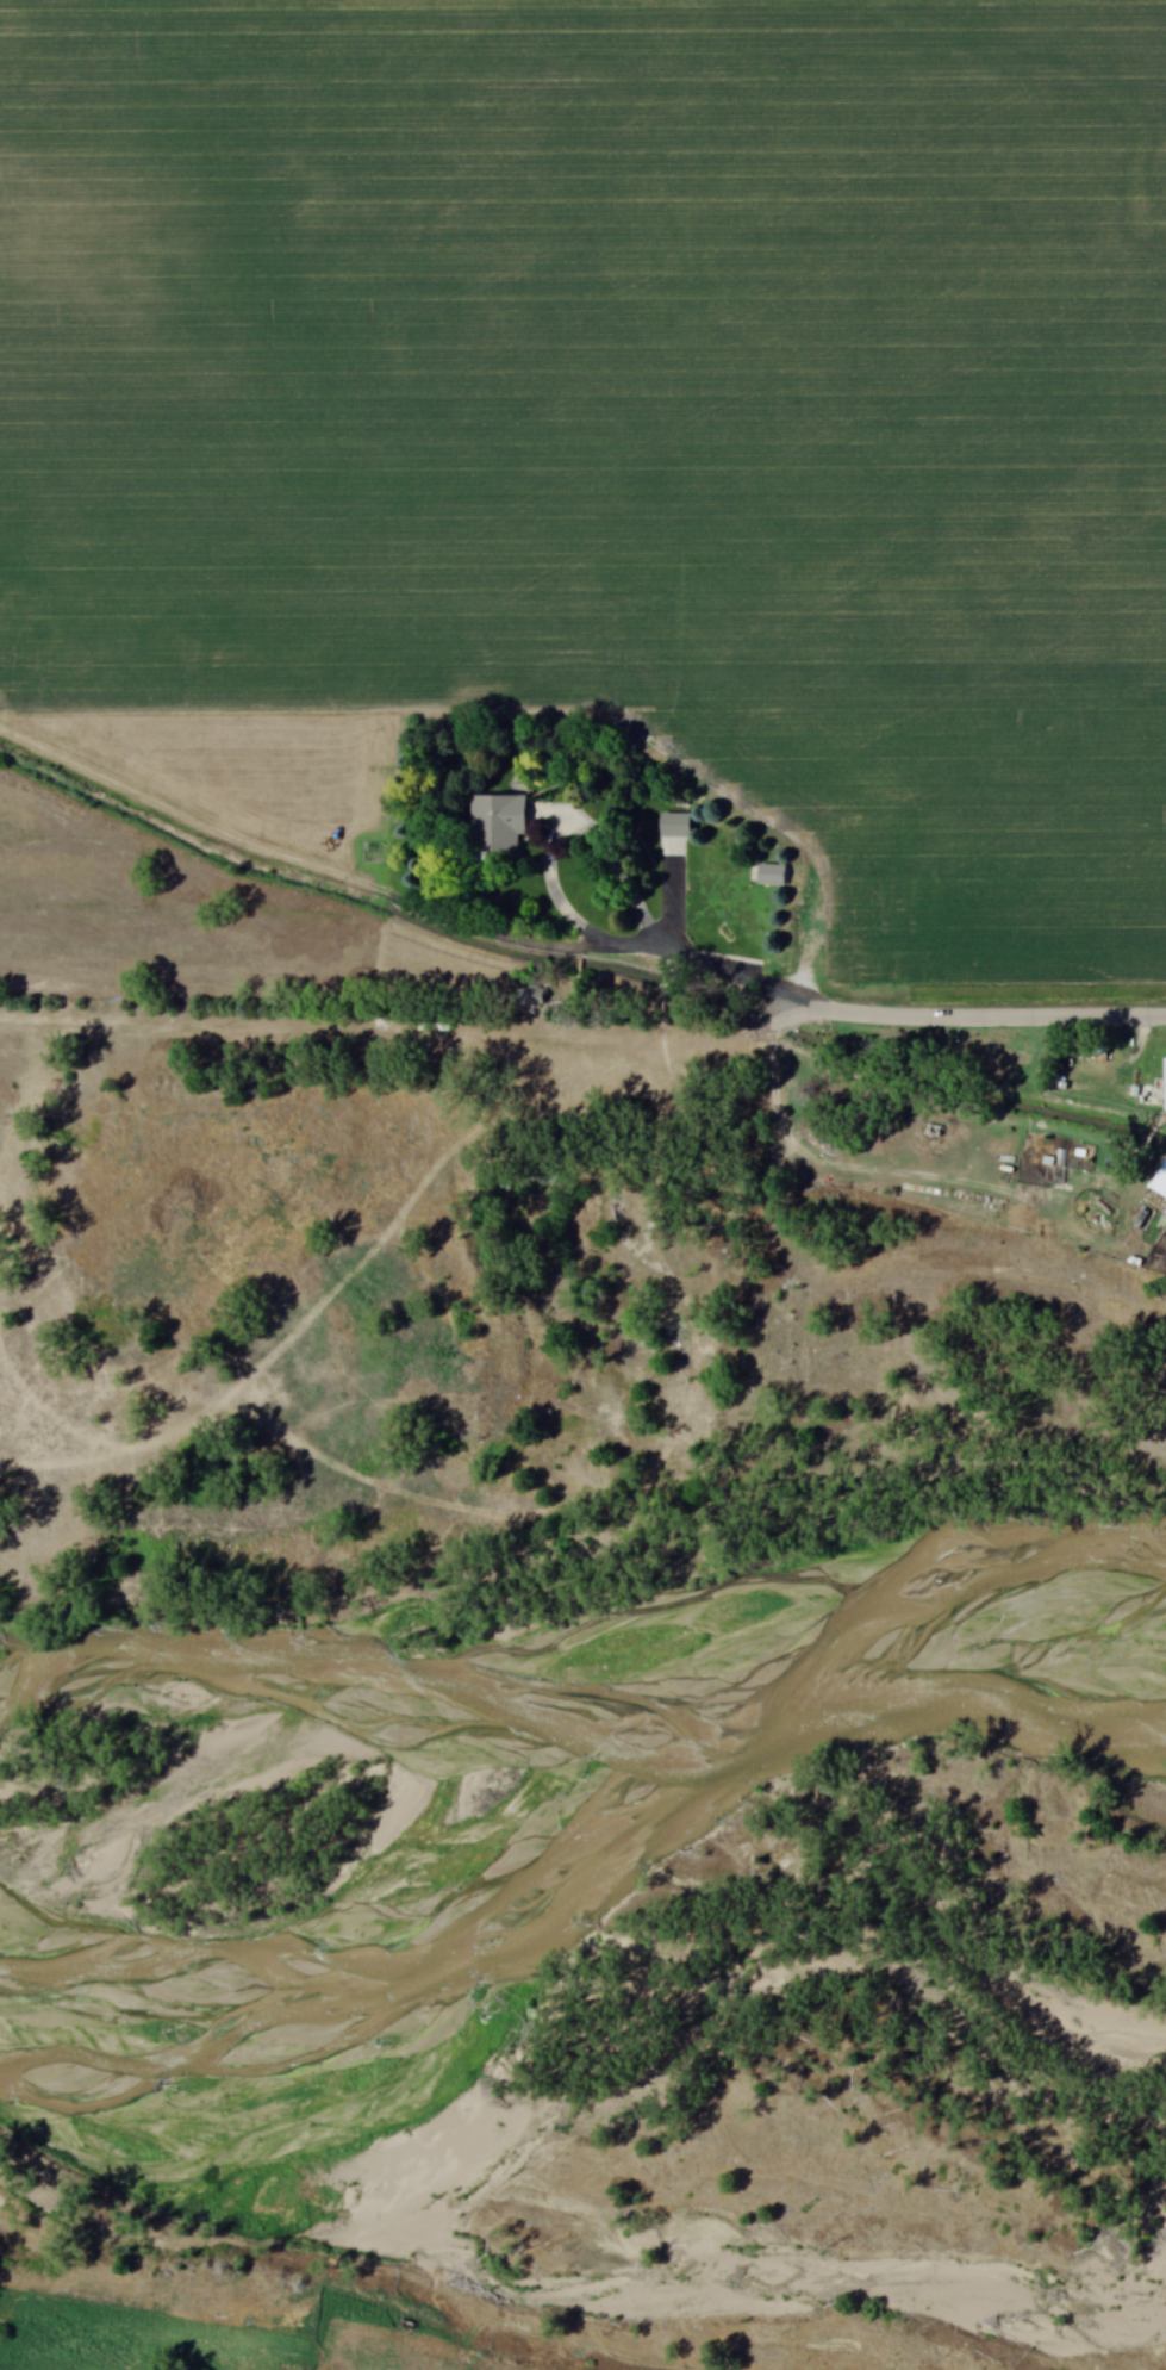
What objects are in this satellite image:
crop: (629, 402)
building: (504, 822)
building: (680, 823)
road: (568, 841)
building: (773, 870)
road: (729, 963)
building: (532, 996)
road: (981, 1010)
building: (1165, 1083)
building: (1161, 1176)
river: (613, 1847)

